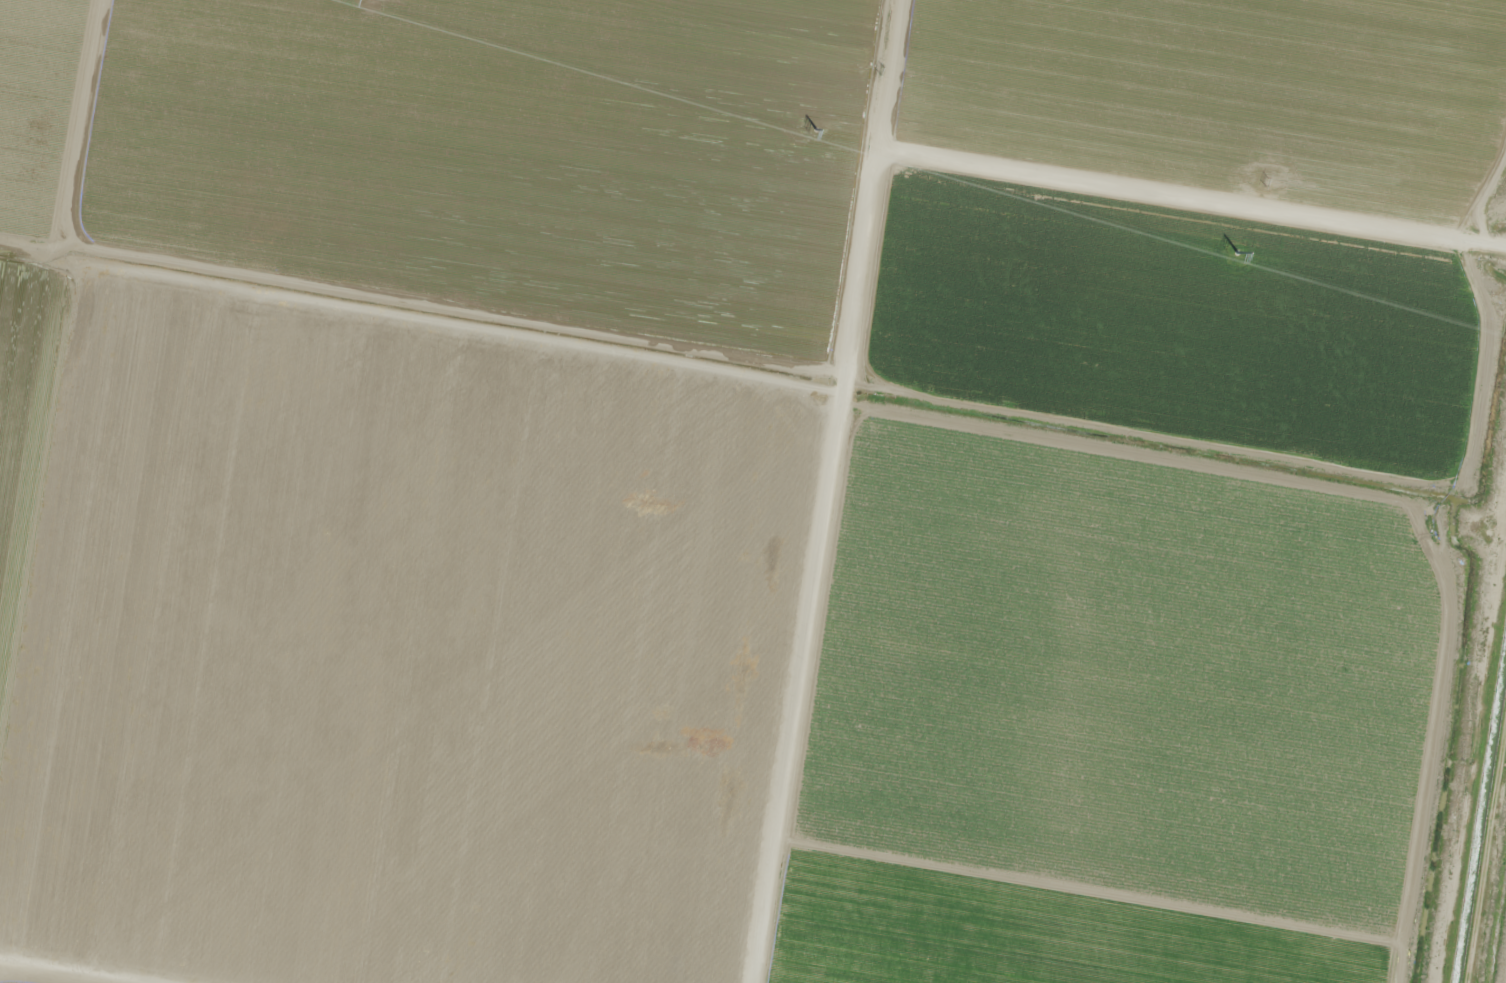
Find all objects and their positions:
power tower: (882, 71)
power tower: (815, 128)
power tower: (1266, 183)
road: (1204, 200)
power tower: (1238, 252)
road: (848, 492)
road: (1502, 962)
road: (31, 978)

